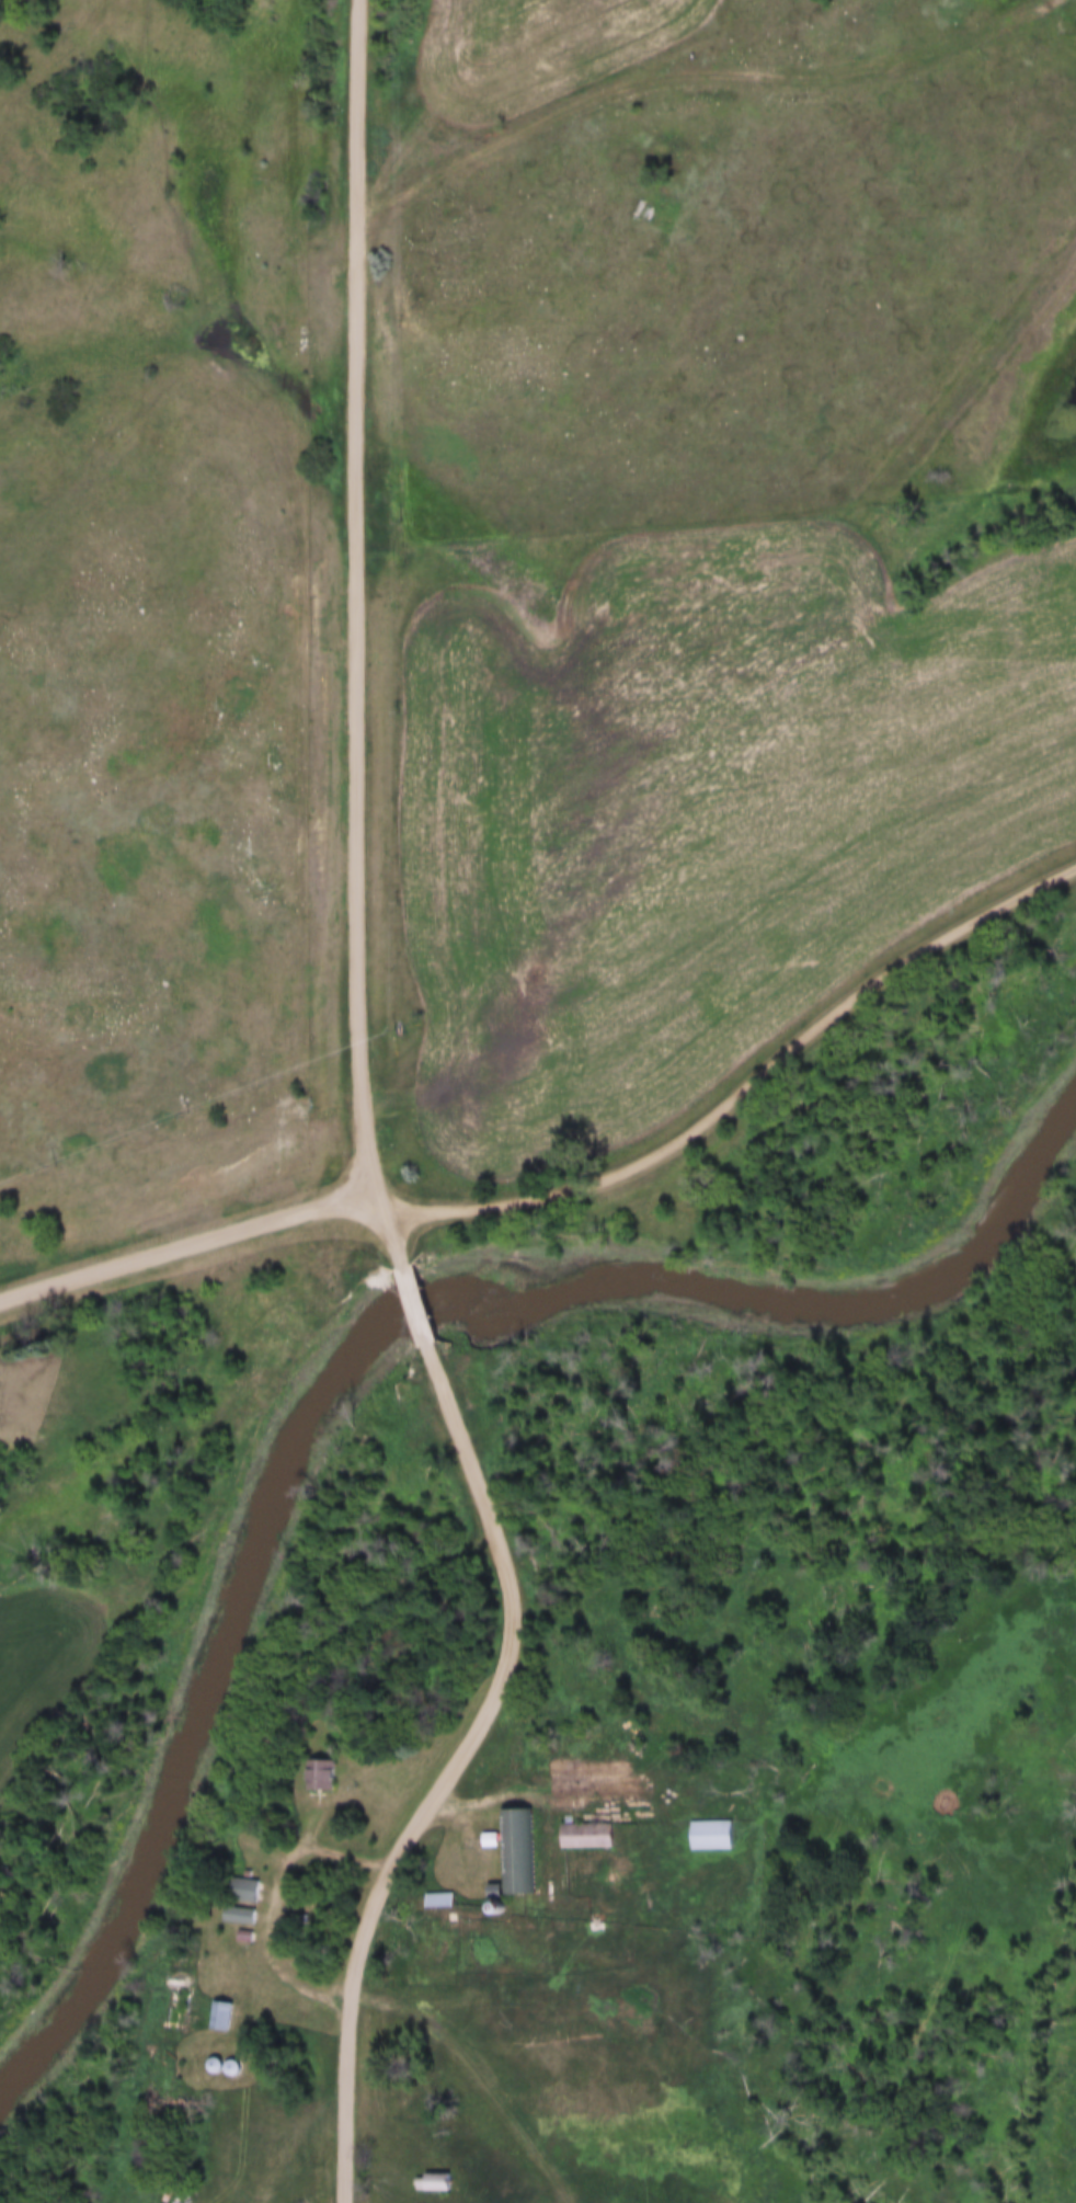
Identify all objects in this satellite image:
road: (694, 73)
road: (354, 638)
road: (747, 1084)
road: (192, 1242)
river: (631, 1283)
road: (413, 1308)
road: (446, 1771)
building: (328, 1773)
road: (568, 1799)
river: (145, 1830)
building: (582, 1836)
building: (708, 1836)
building: (512, 1851)
building: (253, 1890)
road: (274, 1898)
building: (434, 1900)
building: (245, 1914)
building: (669, 1975)
building: (226, 2016)
building: (226, 2067)
building: (438, 2182)

